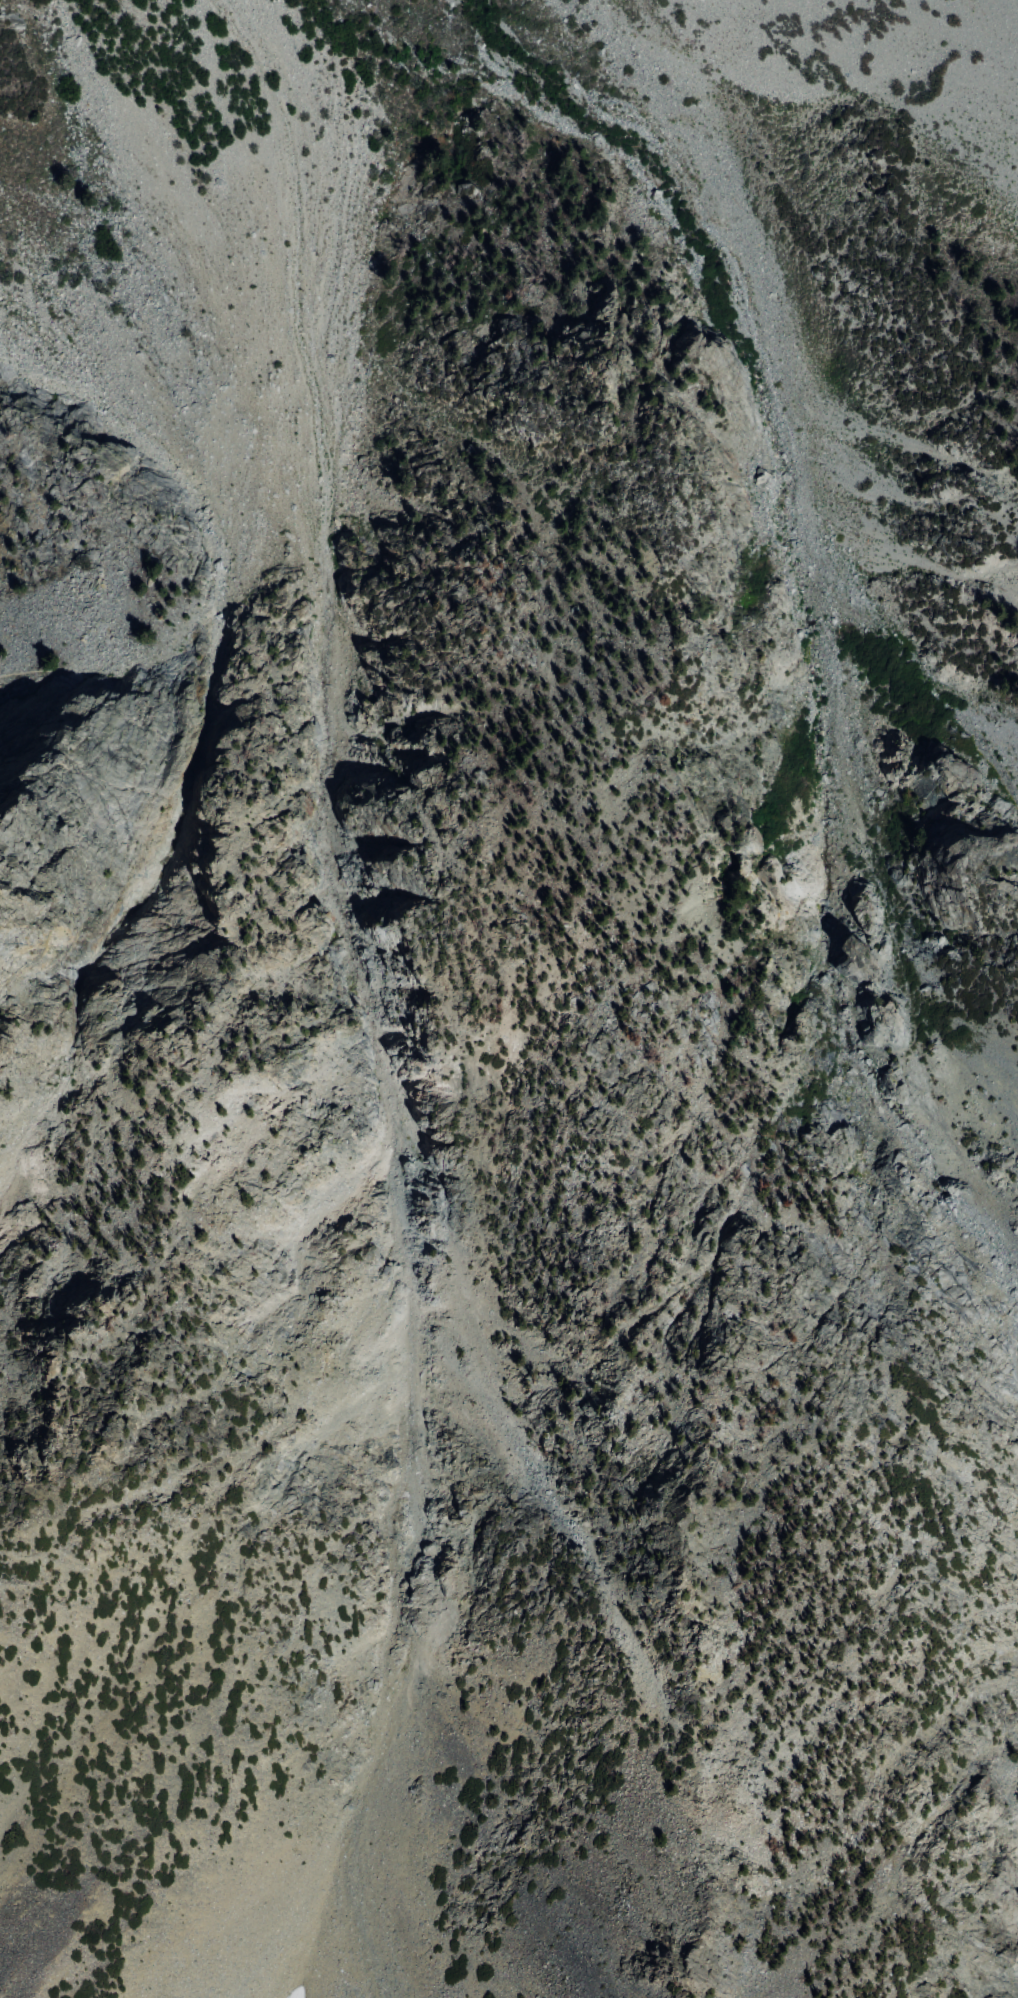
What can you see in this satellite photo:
road: (54, 673)

